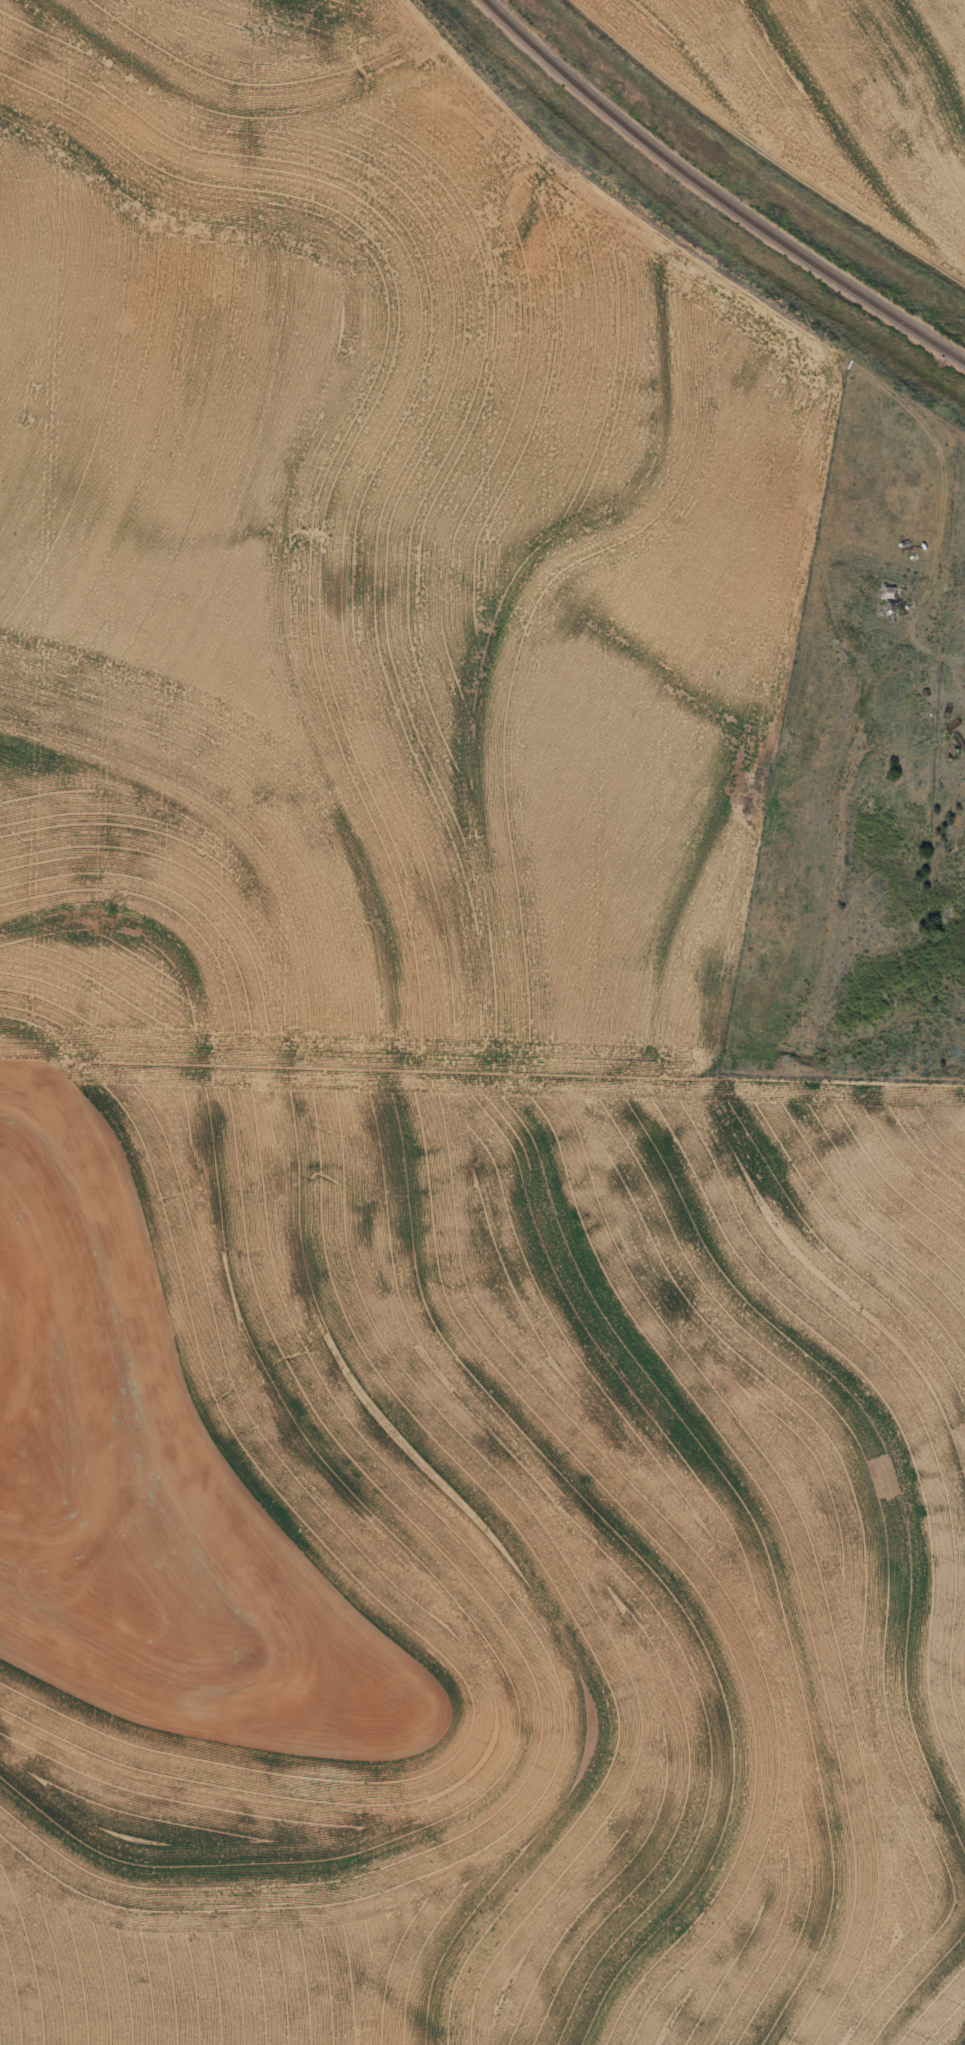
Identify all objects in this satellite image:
railway: (711, 199)
building: (523, 225)
building: (887, 592)

